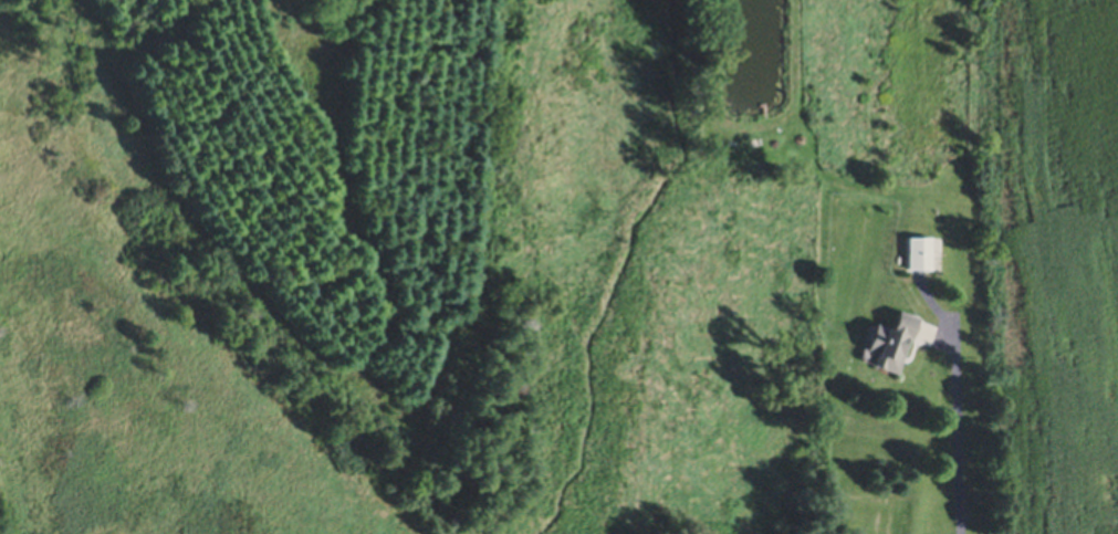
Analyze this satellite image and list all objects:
building: (917, 256)
building: (887, 346)
road: (959, 433)

